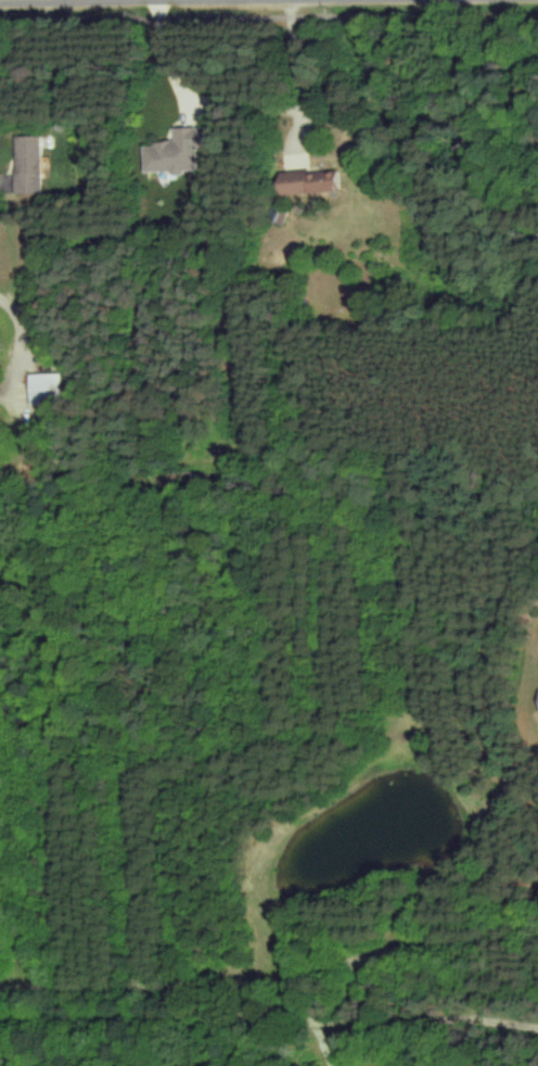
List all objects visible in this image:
road: (269, 14)
road: (171, 58)
road: (293, 77)
building: (172, 151)
building: (26, 164)
building: (306, 181)
road: (22, 334)
building: (44, 389)
road: (272, 978)
road: (269, 1012)

